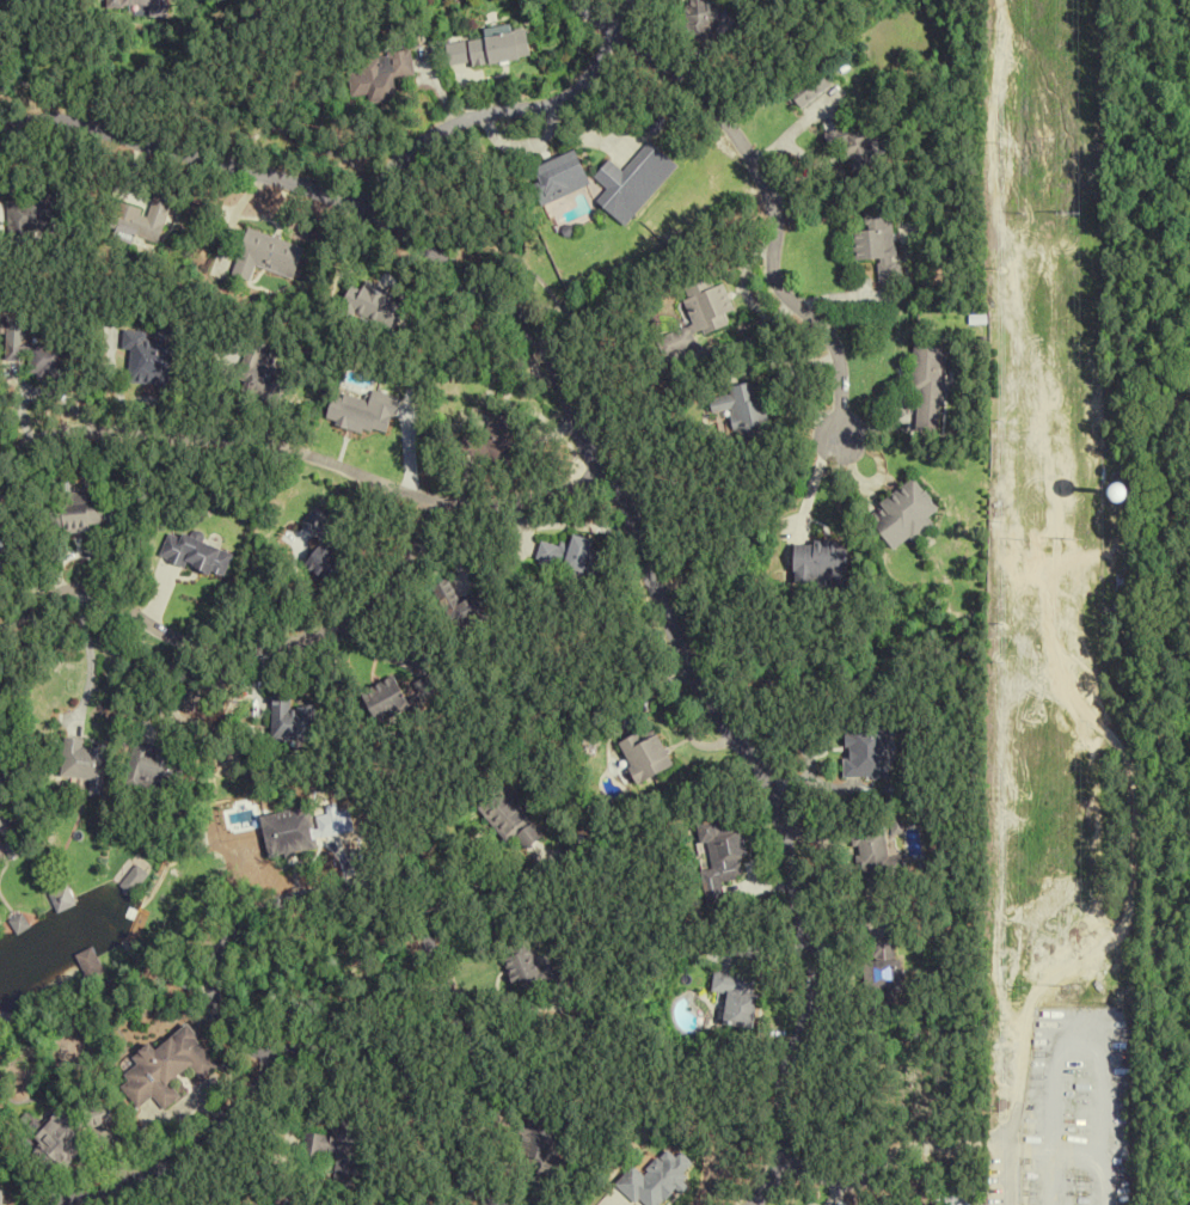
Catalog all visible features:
building: (142, 6)
road: (591, 13)
building: (701, 19)
building: (501, 47)
building: (379, 75)
building: (808, 88)
road: (503, 112)
building: (857, 148)
building: (560, 178)
building: (634, 182)
road: (769, 214)
power tower: (1068, 214)
building: (30, 219)
building: (143, 219)
building: (878, 241)
building: (268, 256)
building: (375, 305)
building: (699, 318)
building: (153, 356)
building: (44, 359)
building: (263, 377)
building: (931, 385)
building: (744, 409)
building: (497, 436)
road: (305, 454)
road: (614, 496)
building: (908, 510)
building: (76, 513)
power tower: (1065, 538)
building: (2, 549)
building: (196, 555)
building: (571, 556)
building: (329, 558)
building: (817, 559)
building: (460, 604)
road: (243, 641)
road: (90, 657)
building: (389, 697)
building: (294, 720)
building: (865, 750)
building: (645, 756)
building: (86, 761)
building: (155, 761)
building: (8, 811)
building: (501, 818)
building: (292, 830)
building: (527, 836)
building: (871, 852)
building: (720, 860)
building: (134, 880)
building: (62, 899)
building: (88, 962)
building: (882, 964)
building: (528, 971)
power tower: (1069, 986)
road: (342, 996)
building: (737, 998)
building: (168, 1068)
road: (355, 1119)
building: (59, 1136)
building: (535, 1142)
building: (337, 1149)
road: (887, 1156)
building: (648, 1181)
building: (2, 1197)
building: (401, 1199)
building: (962, 1199)

